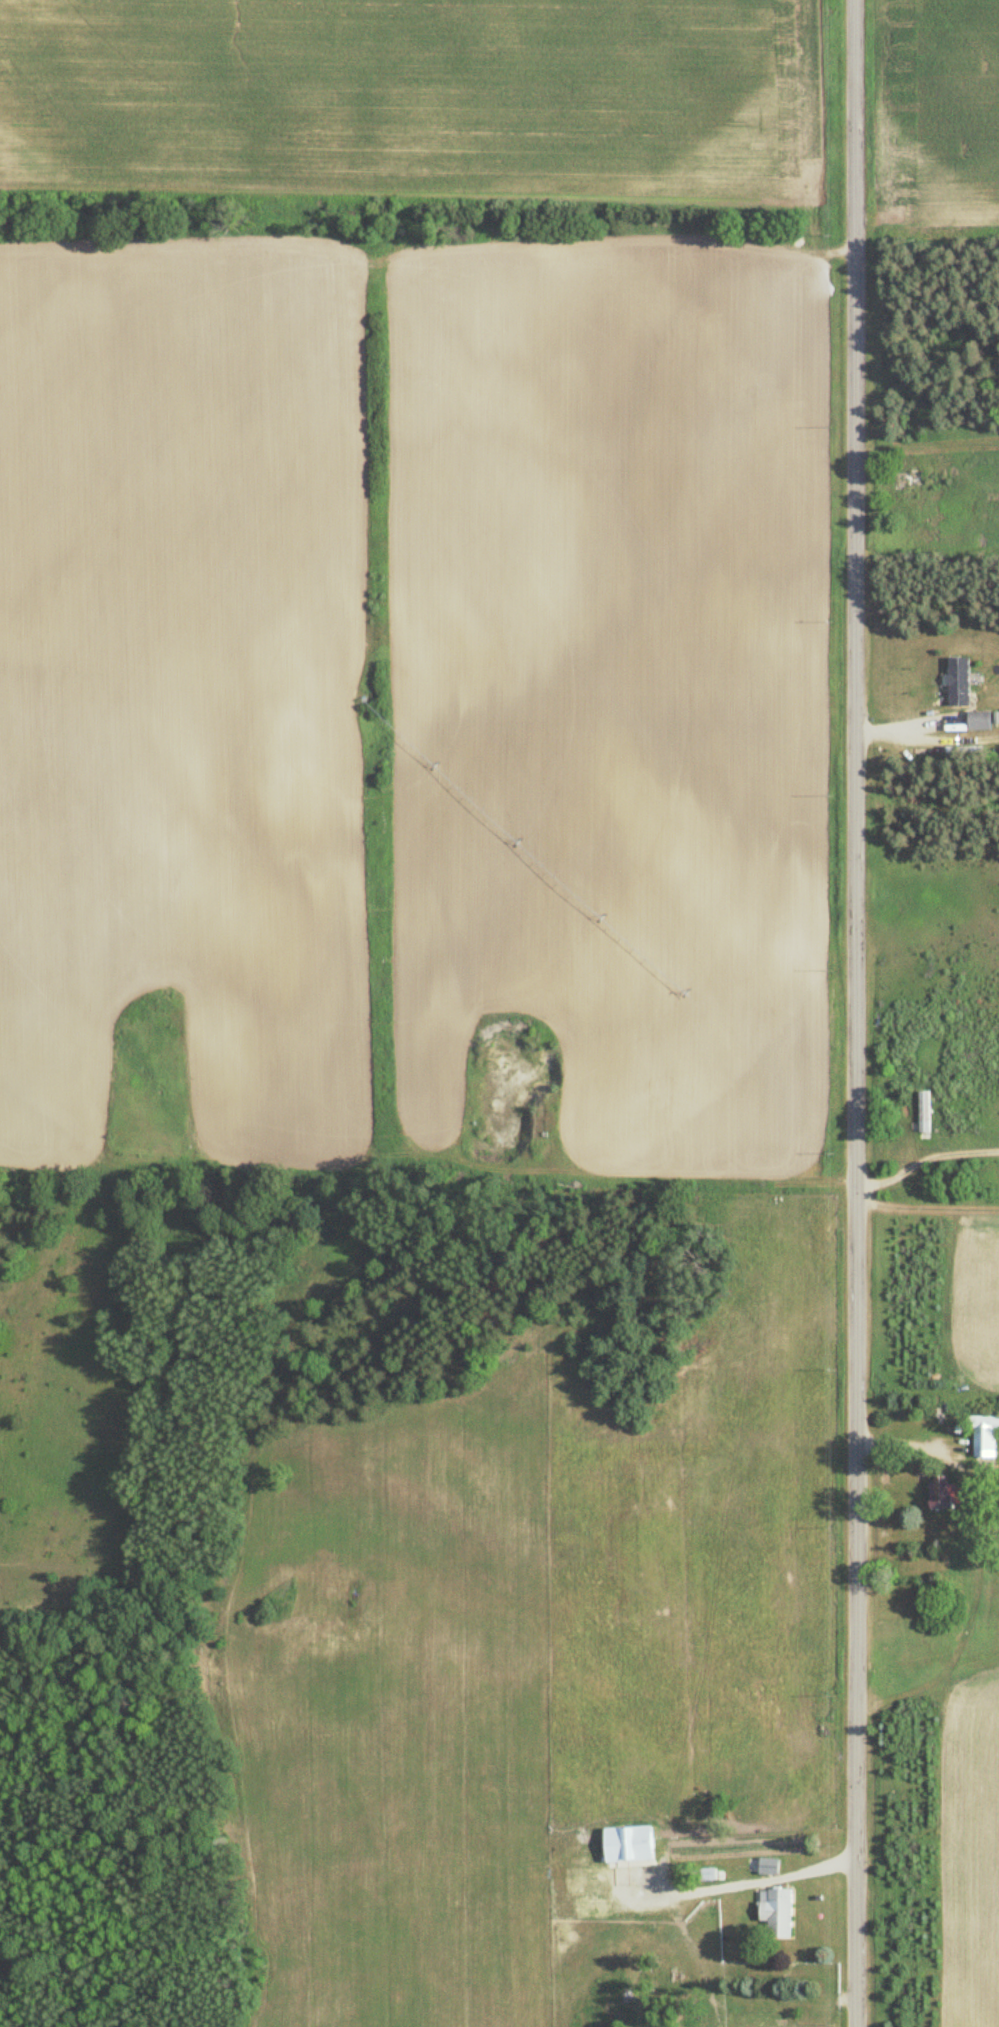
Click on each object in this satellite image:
building: (958, 682)
building: (978, 721)
road: (855, 1013)
building: (923, 1113)
road: (925, 1163)
building: (983, 1433)
road: (906, 1446)
building: (942, 1492)
building: (710, 1868)
building: (774, 1911)

